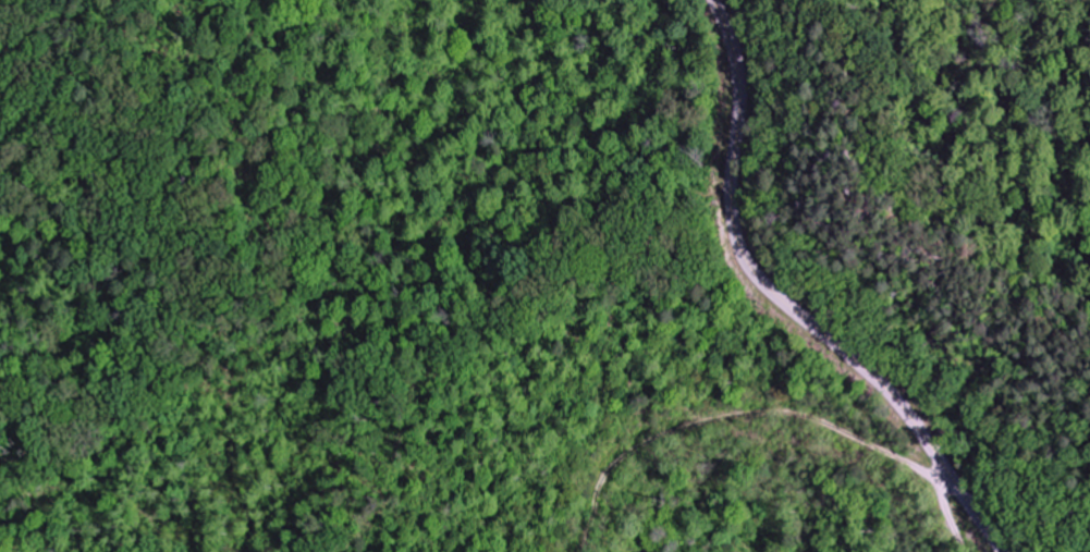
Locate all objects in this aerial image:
road: (788, 305)

